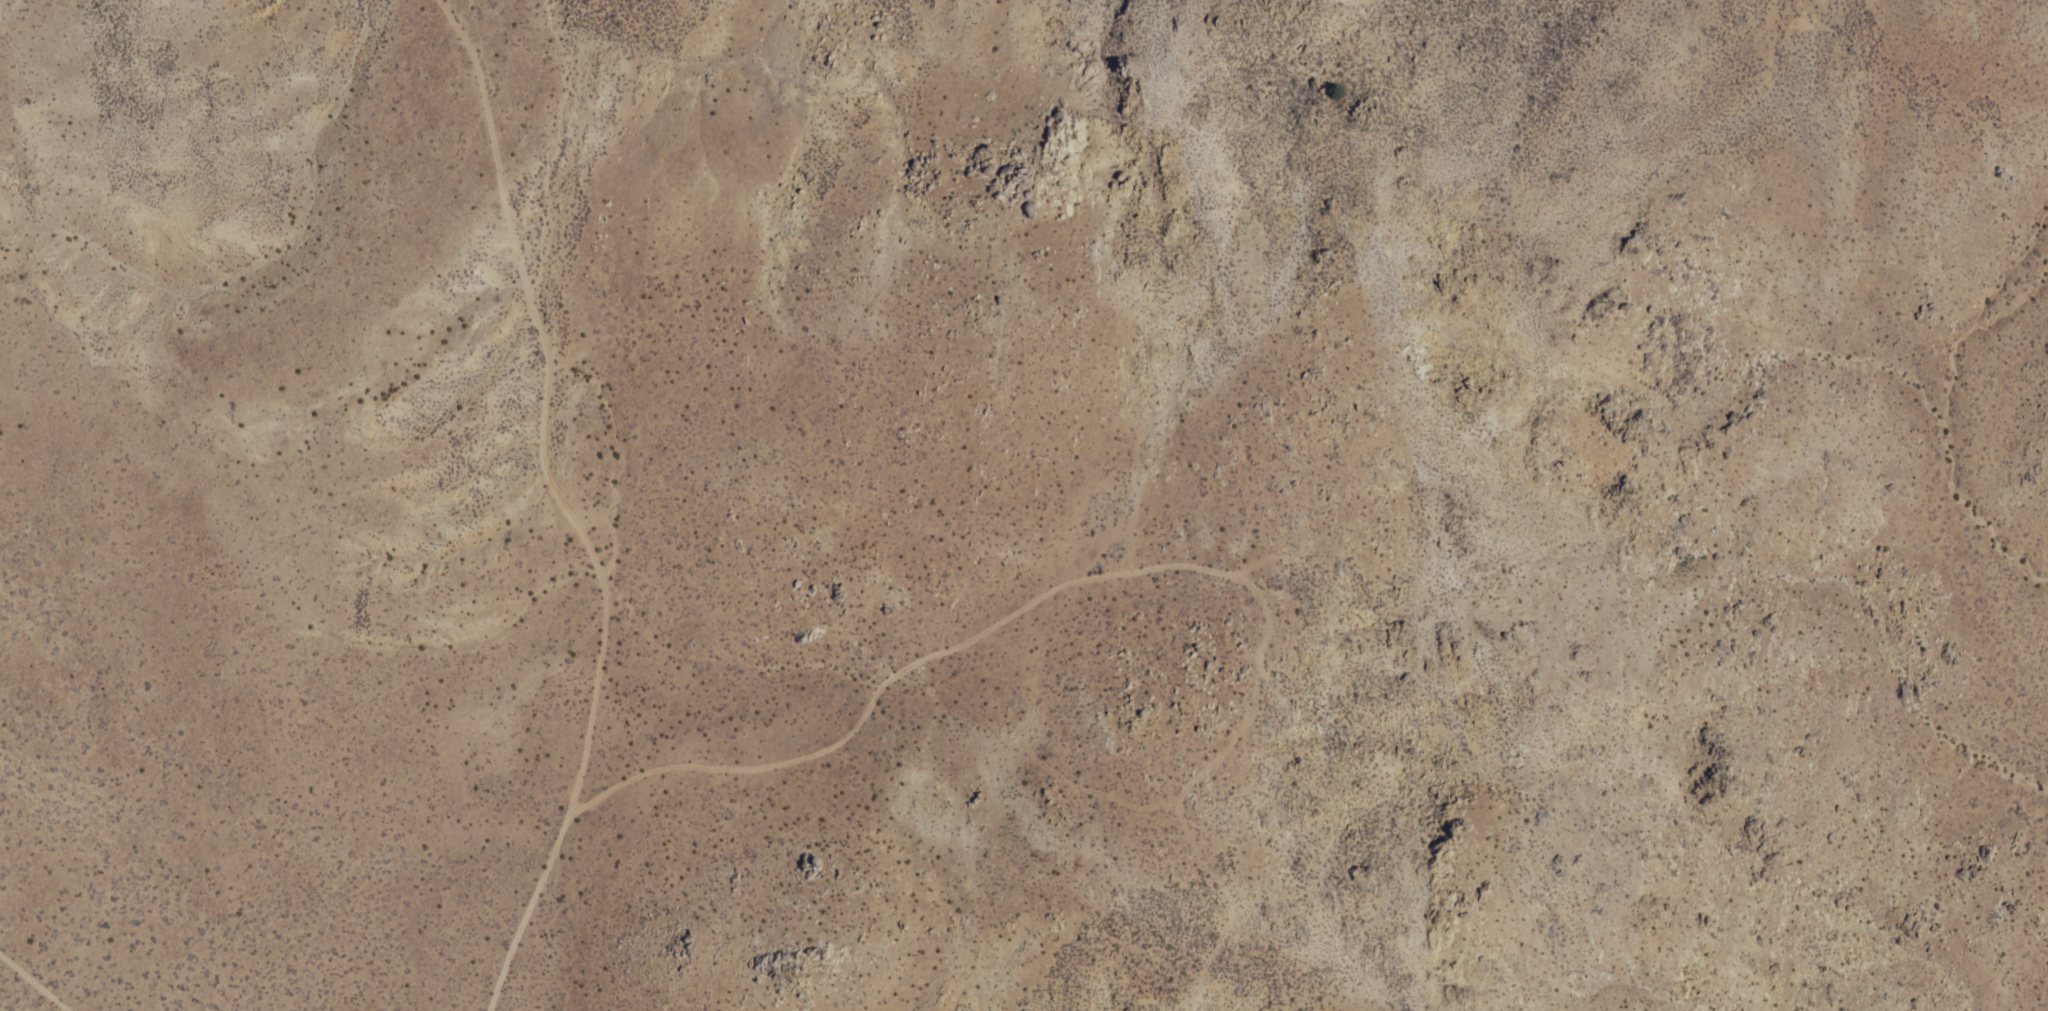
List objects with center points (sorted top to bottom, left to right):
road: (565, 507)
road: (936, 648)
road: (32, 984)

